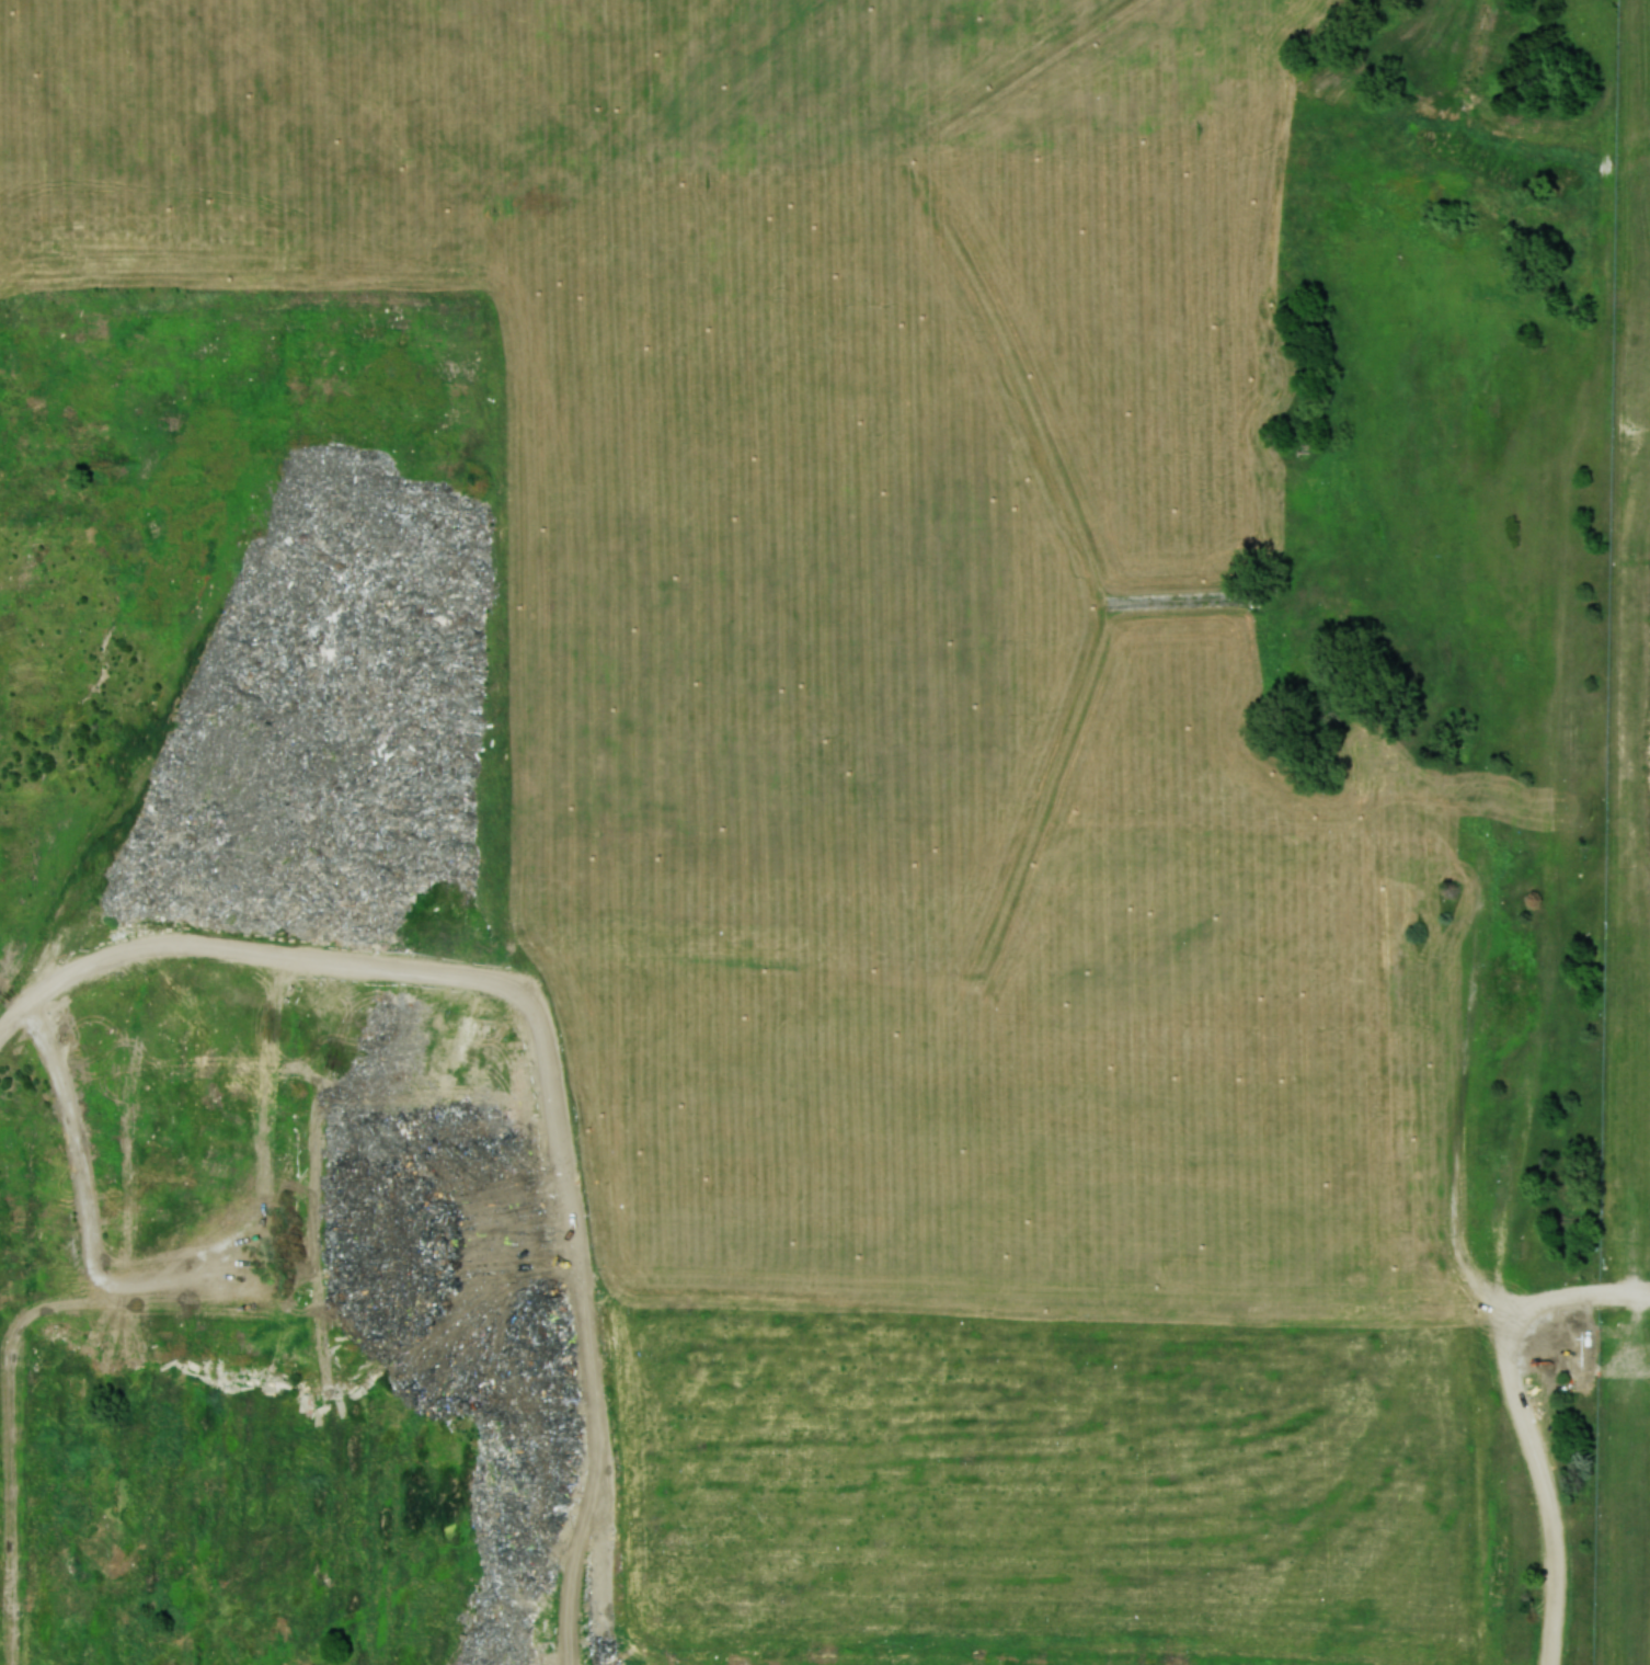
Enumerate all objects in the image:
landfill: (825, 832)
road: (1523, 1425)

